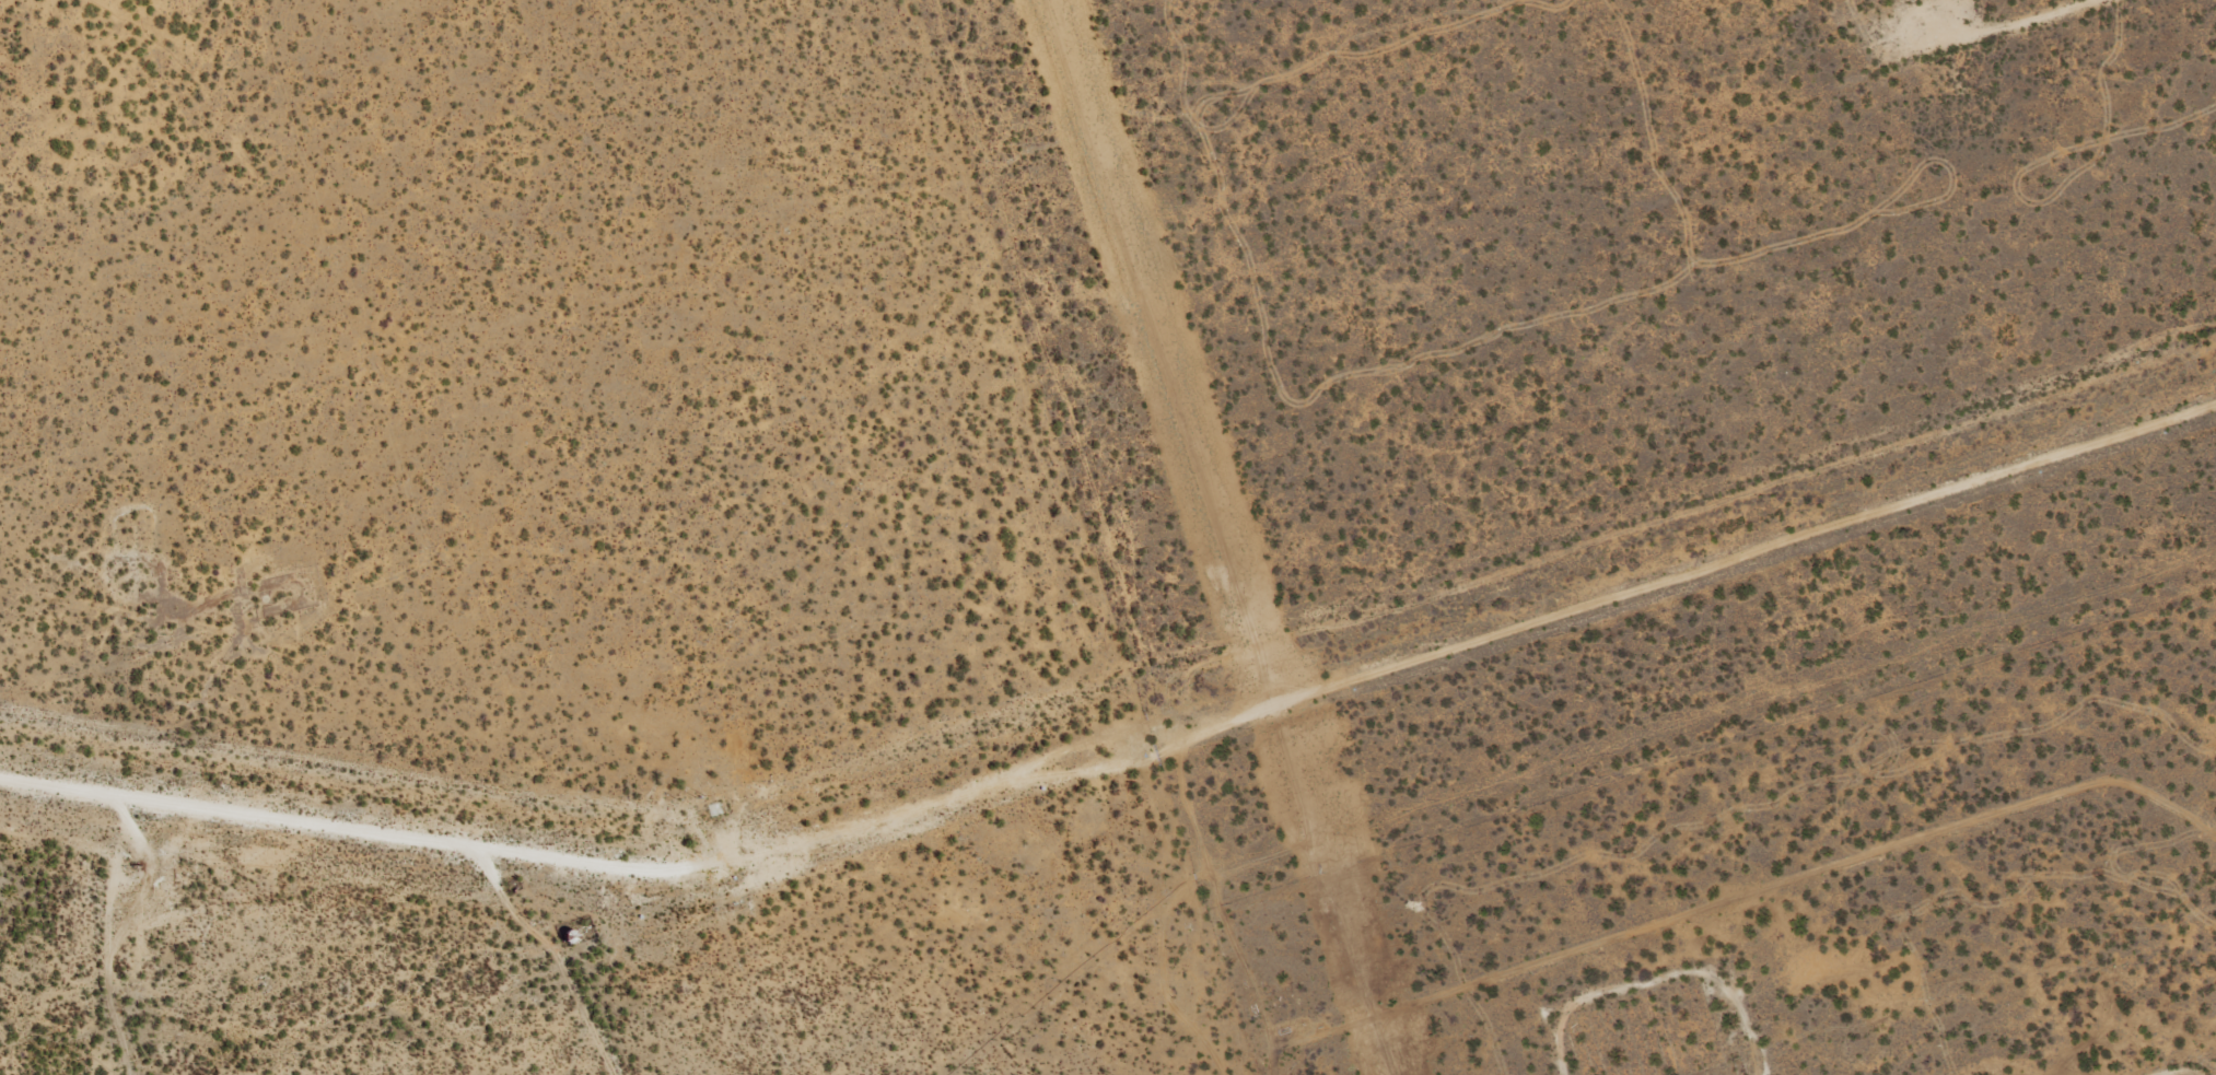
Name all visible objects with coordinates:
road: (2063, 11)
road: (1121, 767)
road: (486, 983)
road: (1585, 998)

